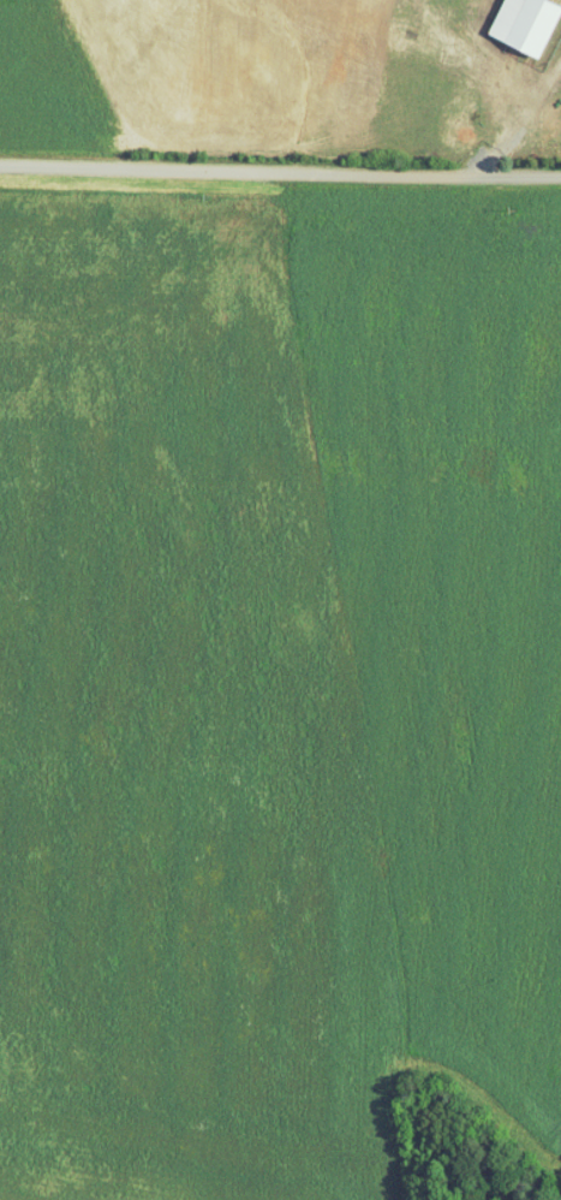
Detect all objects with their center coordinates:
building: (526, 24)
road: (280, 176)

